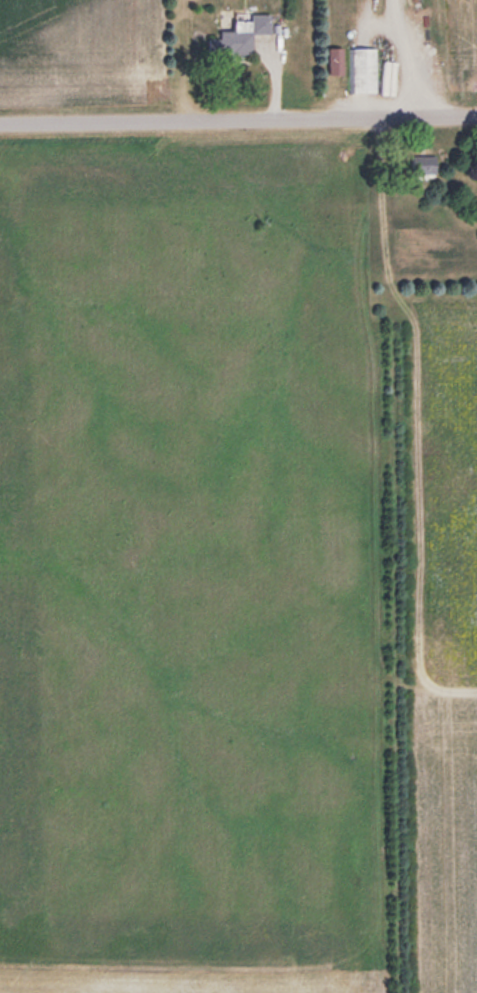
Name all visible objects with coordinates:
building: (242, 34)
building: (337, 60)
building: (363, 69)
road: (238, 123)
building: (423, 164)

